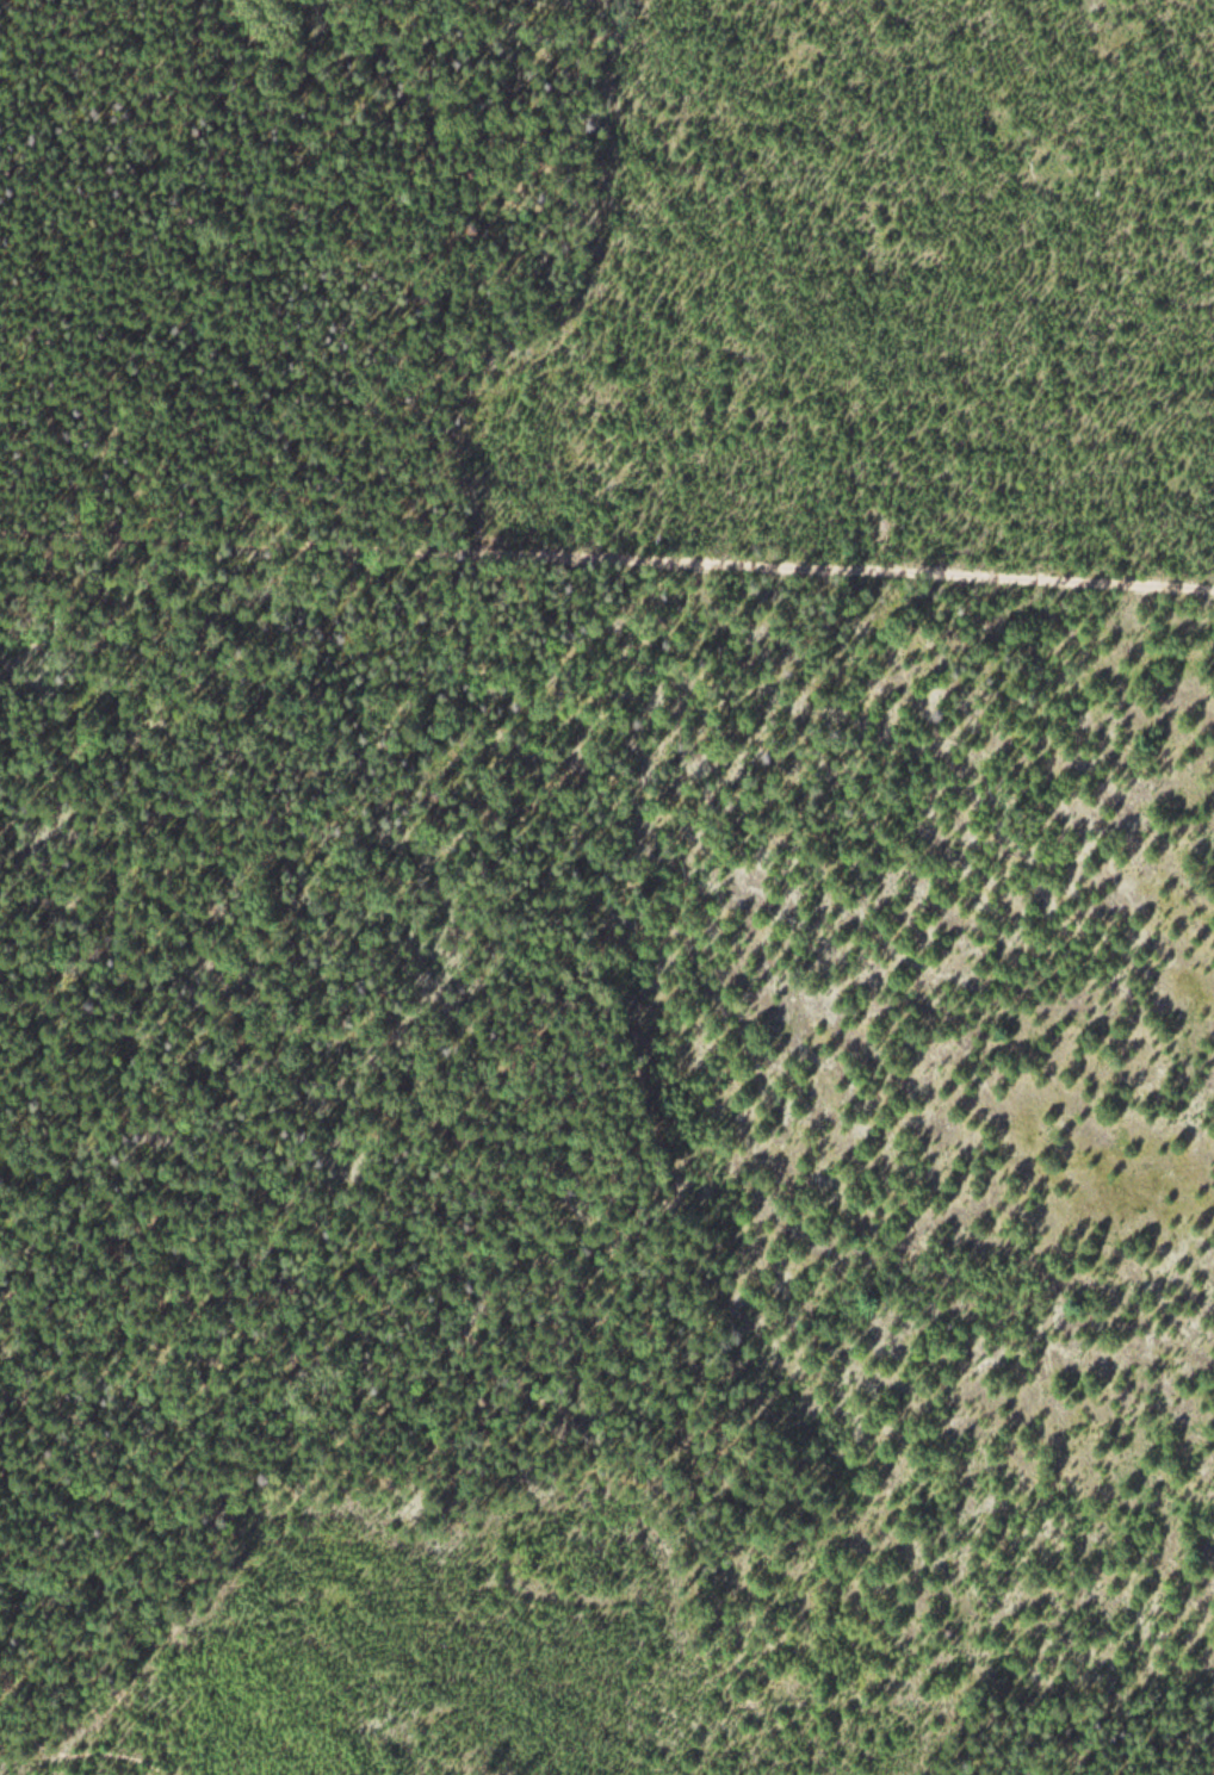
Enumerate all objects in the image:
road: (607, 565)
road: (85, 1751)

